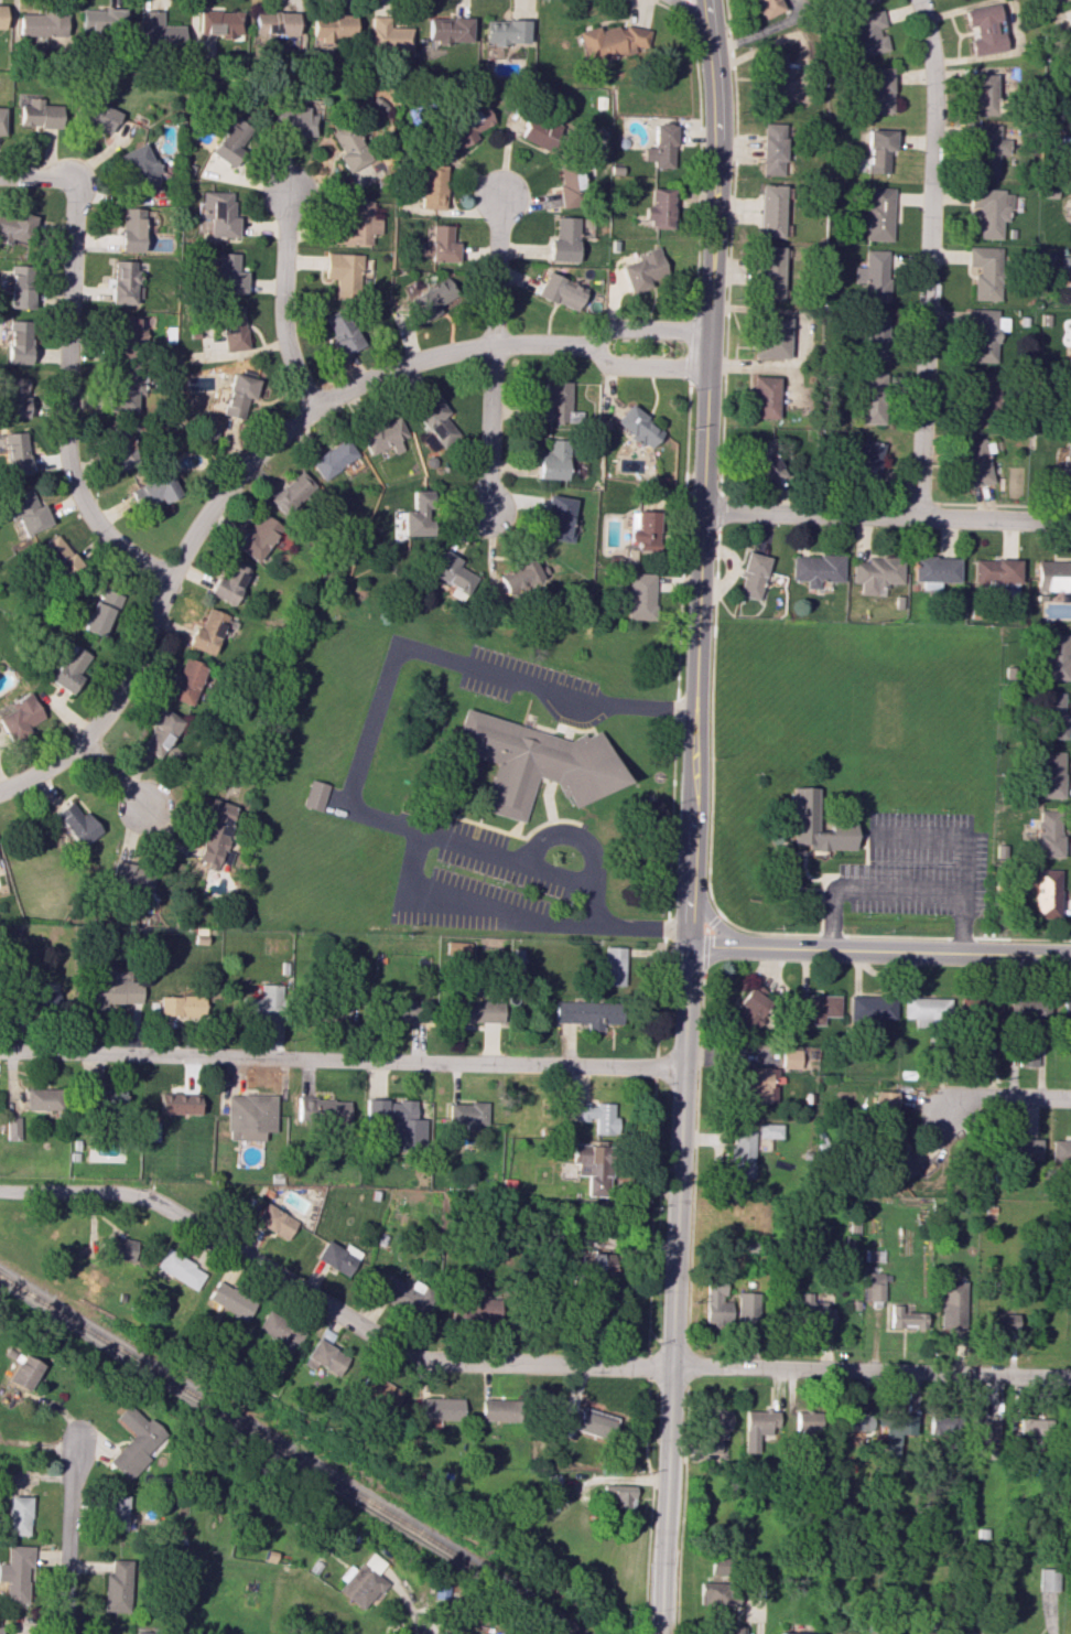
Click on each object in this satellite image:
building: (859, 2)
road: (658, 4)
road: (685, 8)
building: (766, 8)
building: (1, 17)
building: (101, 21)
building: (219, 22)
building: (273, 23)
building: (331, 29)
building: (158, 30)
building: (448, 30)
building: (983, 30)
building: (505, 32)
building: (388, 35)
building: (867, 35)
building: (613, 42)
building: (775, 79)
building: (879, 90)
building: (985, 94)
building: (39, 114)
building: (99, 116)
building: (1, 118)
building: (292, 120)
building: (466, 127)
building: (537, 135)
building: (230, 141)
building: (660, 147)
building: (348, 149)
building: (772, 149)
building: (987, 149)
building: (878, 150)
road: (700, 162)
building: (139, 165)
road: (34, 175)
road: (734, 178)
building: (430, 184)
building: (569, 187)
building: (658, 208)
building: (769, 211)
building: (989, 211)
building: (217, 213)
building: (878, 214)
building: (1069, 215)
building: (357, 225)
building: (15, 227)
building: (130, 229)
building: (563, 240)
building: (439, 244)
road: (927, 257)
building: (1065, 268)
building: (643, 269)
building: (343, 271)
building: (985, 271)
building: (769, 272)
building: (228, 273)
building: (873, 276)
building: (123, 282)
building: (19, 287)
building: (561, 291)
building: (431, 299)
road: (282, 303)
road: (646, 326)
building: (232, 327)
building: (342, 332)
building: (983, 334)
building: (874, 336)
building: (771, 337)
building: (18, 342)
road: (692, 348)
road: (491, 354)
road: (725, 366)
road: (643, 369)
building: (127, 389)
building: (234, 395)
building: (14, 397)
building: (764, 397)
building: (869, 398)
building: (980, 398)
road: (64, 400)
building: (1068, 404)
building: (556, 405)
building: (435, 426)
building: (637, 427)
building: (206, 428)
building: (382, 434)
road: (723, 436)
building: (121, 449)
building: (13, 453)
building: (333, 456)
building: (553, 460)
building: (867, 461)
building: (765, 462)
building: (974, 462)
building: (1064, 467)
road: (231, 480)
building: (152, 490)
building: (293, 494)
road: (813, 501)
road: (1003, 506)
building: (24, 512)
road: (718, 514)
building: (418, 515)
road: (887, 515)
building: (558, 518)
building: (642, 533)
building: (258, 536)
building: (58, 557)
building: (816, 569)
building: (934, 569)
building: (995, 570)
building: (876, 572)
building: (451, 574)
building: (519, 574)
building: (751, 574)
building: (1052, 576)
building: (228, 583)
building: (640, 596)
building: (101, 613)
building: (207, 631)
building: (1056, 656)
building: (68, 668)
parking lot: (509, 675)
building: (187, 681)
building: (1053, 716)
building: (19, 717)
road: (711, 725)
building: (161, 732)
building: (537, 762)
building: (1051, 774)
road: (115, 775)
building: (315, 795)
road: (549, 800)
road: (504, 815)
road: (456, 816)
road: (691, 816)
road: (382, 817)
road: (552, 821)
building: (77, 824)
building: (818, 826)
building: (215, 832)
building: (1048, 834)
road: (572, 837)
road: (867, 845)
road: (862, 846)
road: (670, 864)
parking lot: (919, 867)
road: (804, 872)
road: (823, 879)
building: (134, 880)
building: (1026, 881)
parking lot: (474, 884)
road: (938, 889)
building: (1046, 893)
road: (821, 903)
road: (965, 921)
road: (639, 925)
road: (944, 936)
road: (704, 938)
building: (457, 949)
road: (879, 950)
building: (614, 966)
building: (264, 1003)
building: (181, 1006)
building: (818, 1007)
building: (872, 1008)
building: (402, 1009)
building: (750, 1009)
building: (927, 1009)
building: (1029, 1010)
building: (345, 1011)
building: (478, 1011)
building: (1065, 1011)
building: (587, 1013)
building: (1027, 1056)
road: (340, 1058)
building: (790, 1058)
building: (761, 1084)
road: (1006, 1097)
building: (41, 1098)
building: (178, 1103)
building: (885, 1106)
building: (323, 1110)
building: (467, 1114)
building: (249, 1117)
building: (598, 1117)
building: (397, 1121)
building: (12, 1128)
building: (769, 1130)
building: (152, 1131)
building: (1023, 1149)
building: (1060, 1151)
building: (740, 1153)
road: (695, 1155)
building: (896, 1160)
building: (592, 1167)
building: (274, 1221)
building: (119, 1249)
building: (338, 1257)
building: (180, 1269)
building: (873, 1287)
building: (405, 1296)
building: (230, 1300)
building: (717, 1303)
building: (952, 1304)
building: (748, 1307)
building: (475, 1310)
building: (812, 1311)
building: (905, 1319)
building: (1000, 1322)
building: (280, 1330)
road: (672, 1343)
road: (648, 1344)
building: (326, 1356)
road: (512, 1361)
road: (686, 1361)
road: (649, 1367)
building: (23, 1372)
road: (668, 1378)
building: (377, 1391)
building: (439, 1408)
building: (496, 1410)
building: (853, 1421)
building: (805, 1423)
building: (940, 1426)
building: (714, 1427)
building: (1029, 1428)
building: (758, 1429)
building: (896, 1430)
building: (986, 1434)
building: (138, 1442)
railway: (285, 1456)
road: (649, 1476)
building: (616, 1495)
road: (681, 1506)
building: (119, 1512)
building: (19, 1515)
road: (72, 1536)
building: (717, 1566)
building: (17, 1572)
building: (1047, 1579)
building: (363, 1581)
building: (118, 1587)
building: (716, 1593)
road: (641, 1604)
road: (426, 1624)
building: (1, 1630)
building: (732, 1630)
building: (797, 1633)

